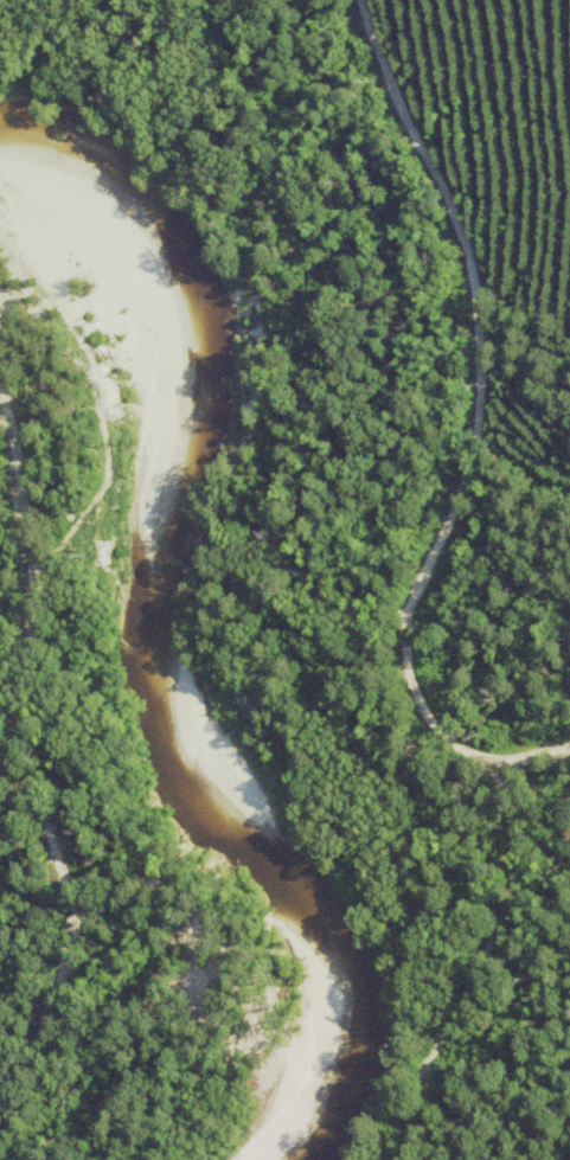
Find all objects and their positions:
road: (397, 596)
river: (161, 623)
road: (60, 947)

